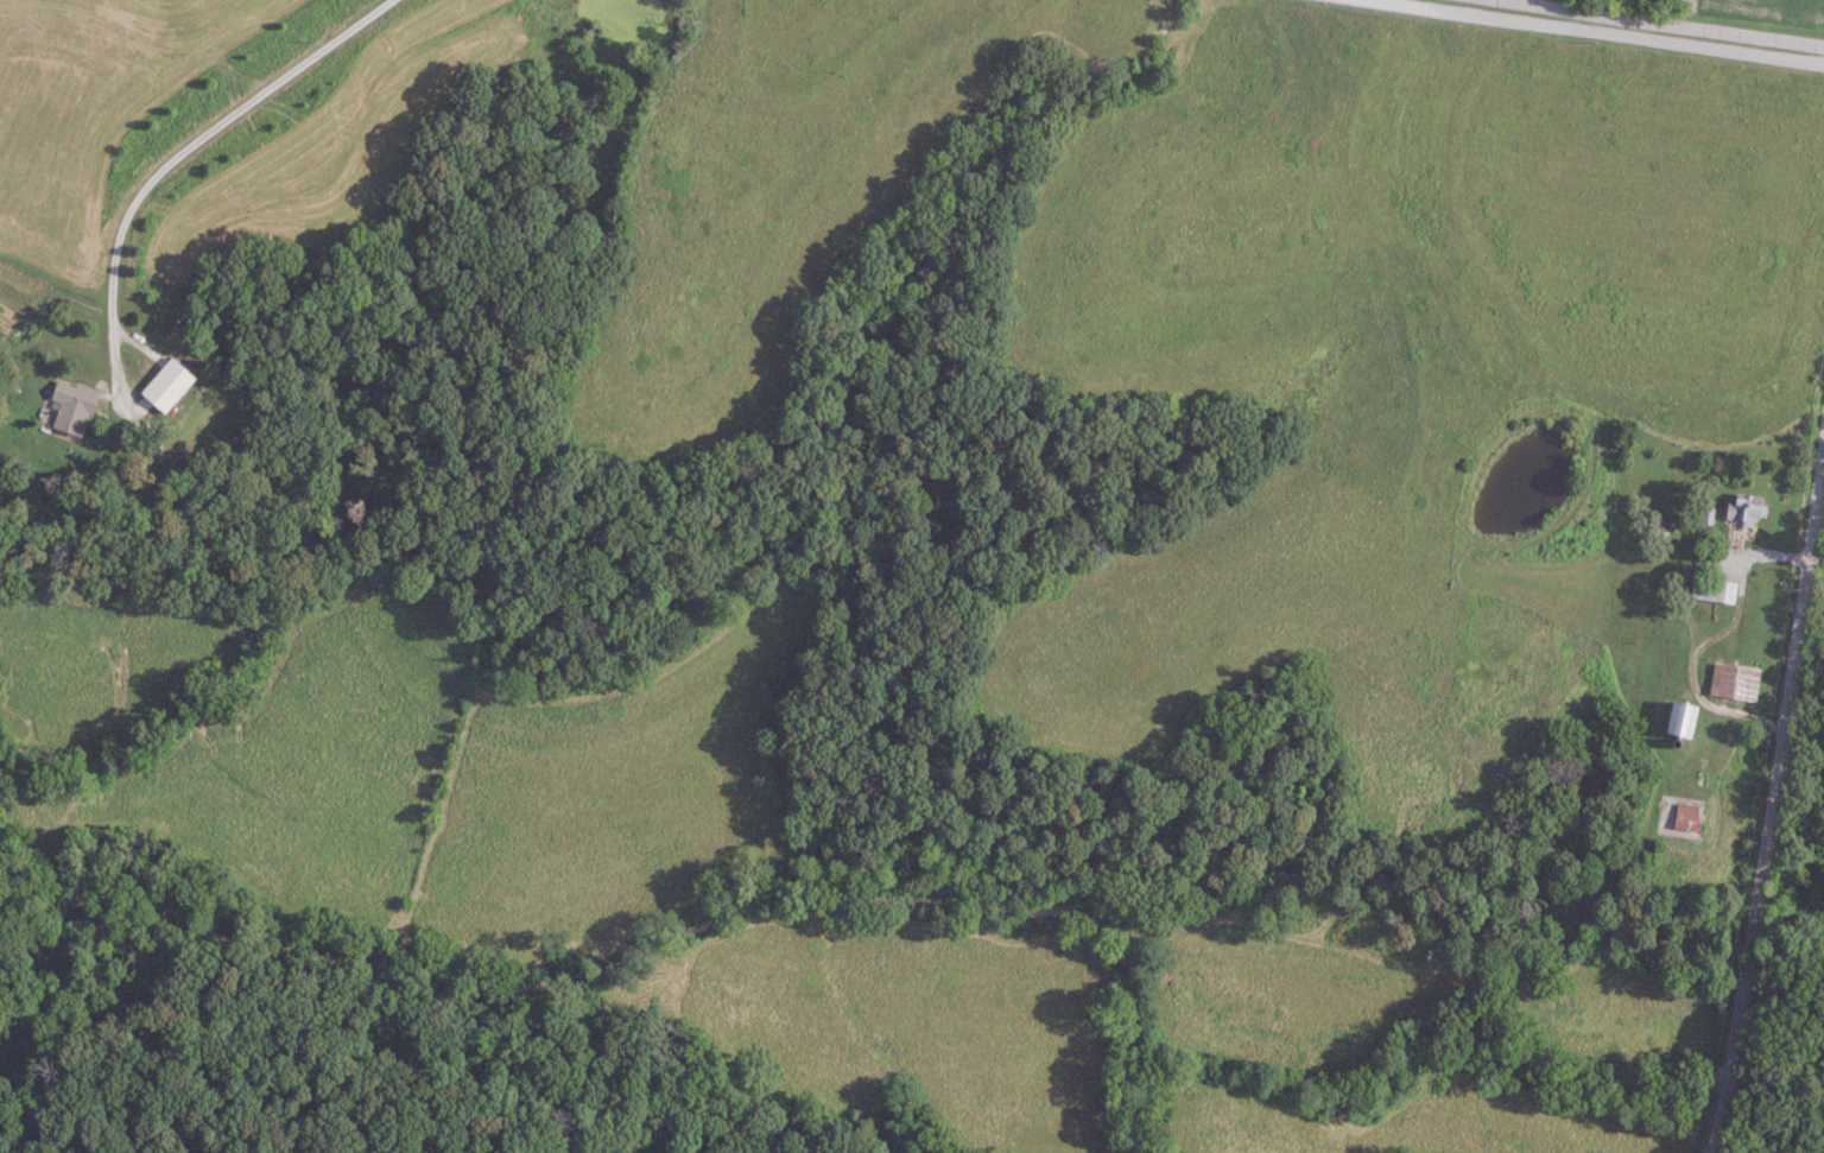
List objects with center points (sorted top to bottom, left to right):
road: (1671, 23)
road: (1605, 30)
road: (179, 154)
building: (75, 407)
building: (1749, 508)
building: (1716, 591)
road: (1709, 636)
building: (1737, 682)
building: (1685, 720)
road: (1768, 796)
building: (1692, 815)

